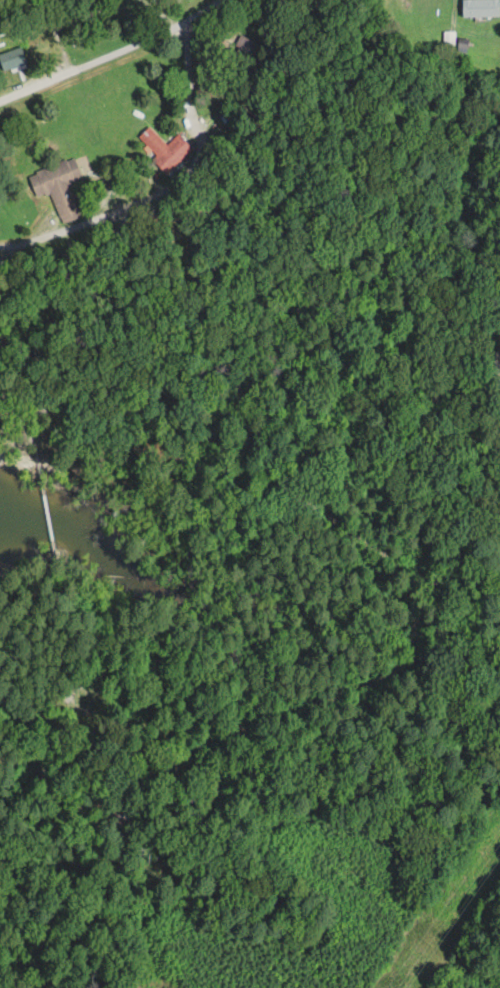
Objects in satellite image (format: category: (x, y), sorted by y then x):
building: (481, 8)
road: (114, 50)
building: (241, 57)
building: (12, 58)
building: (165, 148)
building: (59, 187)
road: (39, 239)
road: (328, 514)
building: (57, 714)
building: (117, 824)

